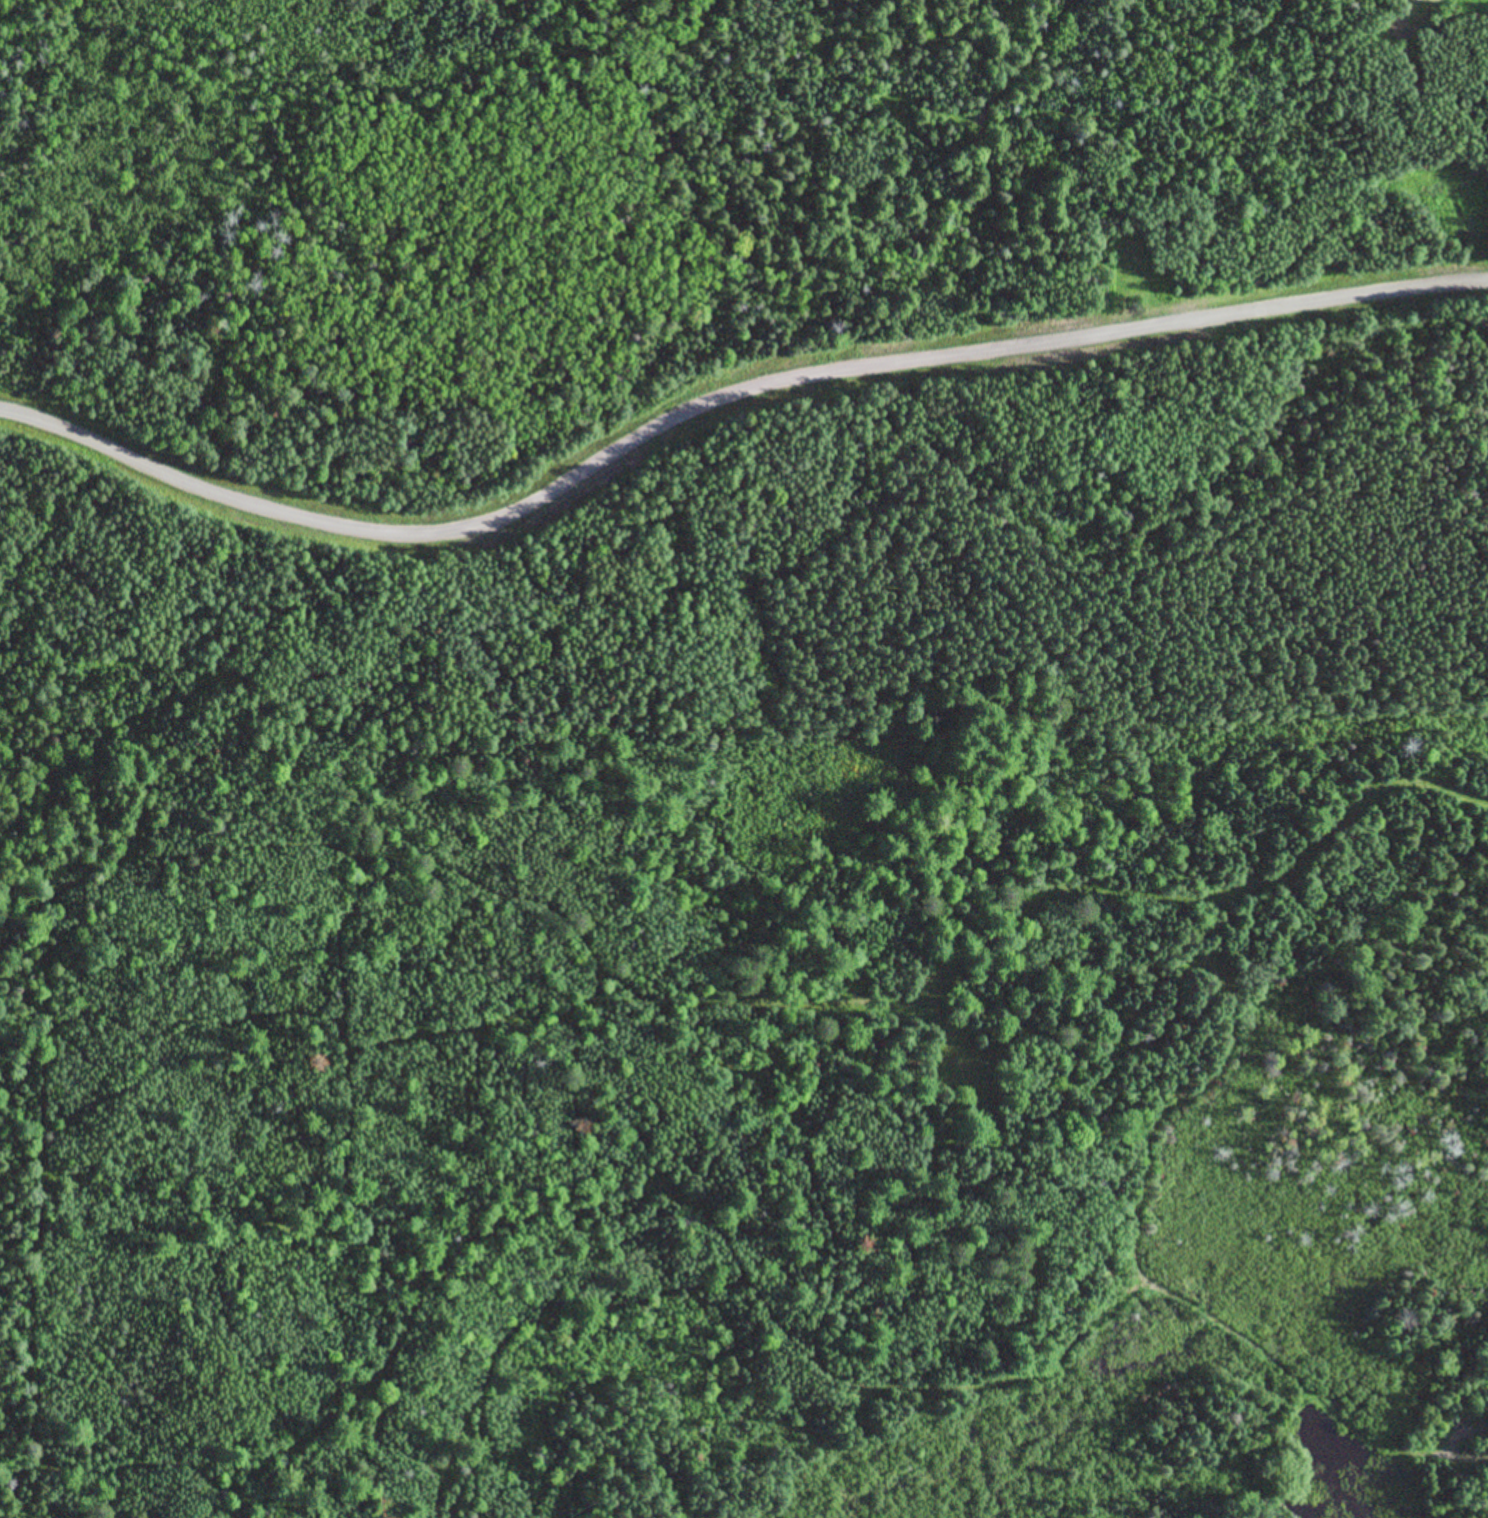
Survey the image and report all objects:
road: (718, 395)

